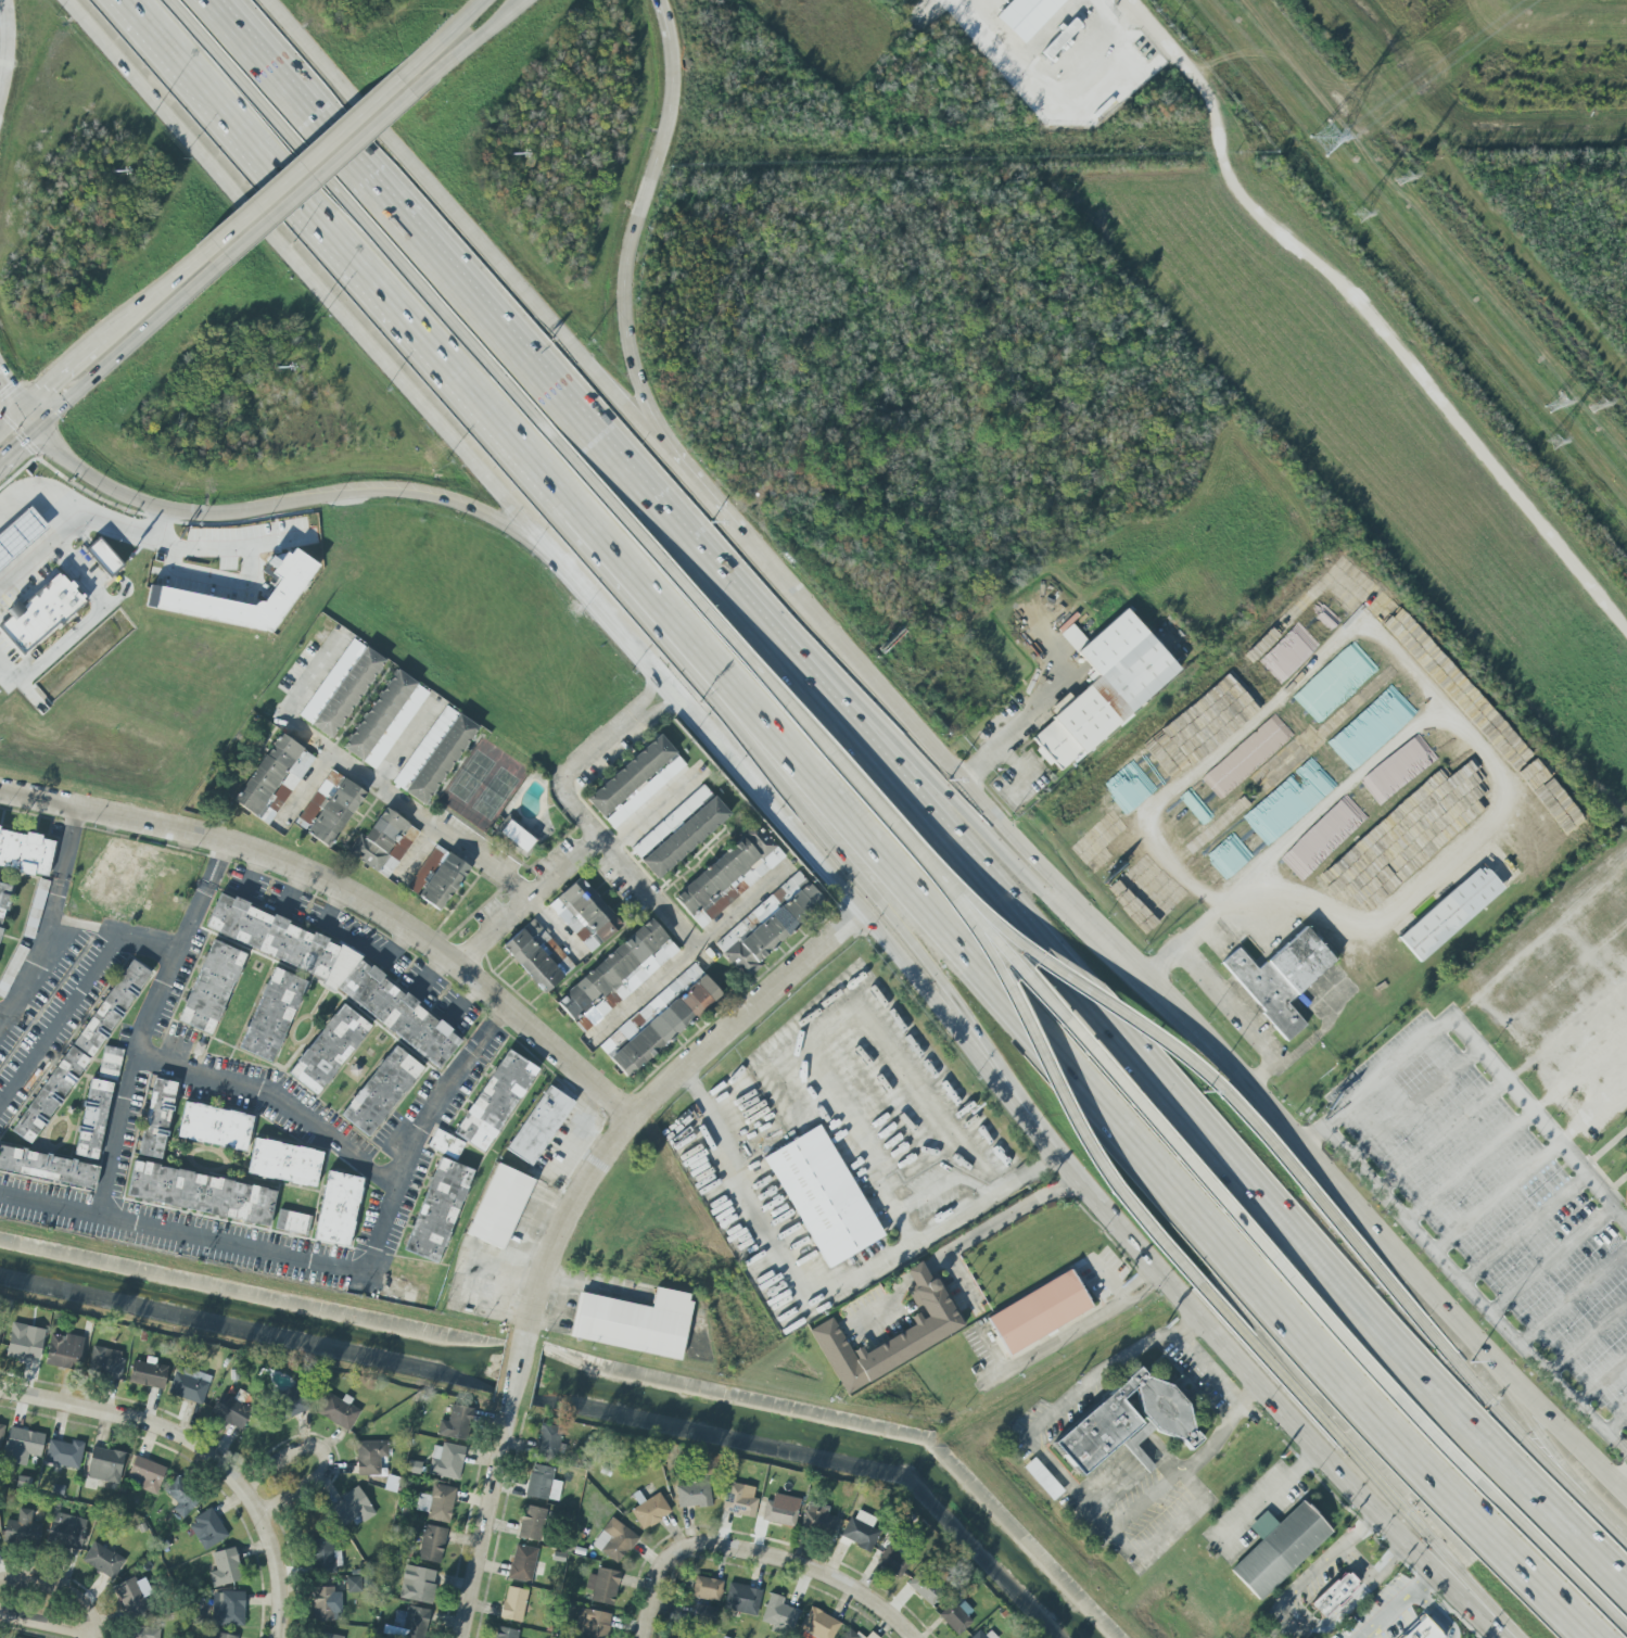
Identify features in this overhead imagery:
road: (470, 12)
building: (1026, 16)
road: (496, 21)
road: (1103, 30)
building: (1060, 38)
road: (251, 48)
road: (253, 48)
road: (10, 60)
power tower: (1329, 137)
road: (327, 141)
road: (342, 156)
power tower: (1410, 186)
power tower: (1368, 223)
road: (635, 228)
road: (366, 238)
road: (340, 252)
road: (503, 265)
road: (315, 278)
road: (148, 297)
road: (1364, 317)
road: (514, 346)
road: (125, 348)
road: (60, 370)
traffic signals: (3, 382)
traffic signals: (43, 385)
road: (10, 390)
power tower: (1554, 403)
road: (11, 414)
road: (29, 415)
power tower: (1599, 415)
traffic signals: (21, 442)
road: (18, 443)
power tower: (1558, 453)
road: (408, 491)
road: (130, 495)
road: (37, 498)
building: (18, 534)
gas station: (18, 534)
road: (211, 549)
building: (103, 558)
road: (29, 564)
road: (77, 569)
road: (779, 577)
road: (216, 585)
building: (169, 593)
building: (39, 614)
road: (614, 621)
road: (754, 674)
building: (341, 688)
building: (1104, 688)
road: (1264, 710)
road: (1028, 718)
building: (385, 720)
building: (434, 754)
park: (471, 776)
building: (274, 778)
building: (635, 782)
road: (310, 785)
park: (494, 792)
road: (1480, 805)
building: (330, 808)
road: (406, 808)
road: (654, 809)
road: (584, 813)
building: (671, 822)
road: (814, 823)
building: (517, 836)
building: (685, 837)
road: (988, 842)
building: (383, 843)
building: (25, 852)
road: (422, 853)
road: (1031, 855)
building: (728, 876)
building: (437, 877)
road: (345, 898)
road: (530, 900)
building: (3, 901)
road: (743, 904)
building: (35, 909)
building: (1450, 913)
building: (584, 914)
road: (51, 916)
road: (864, 916)
building: (768, 924)
road: (1179, 943)
road: (167, 948)
building: (537, 956)
building: (11, 969)
building: (331, 972)
building: (617, 975)
building: (1280, 978)
building: (211, 987)
road: (646, 991)
building: (111, 1008)
road: (5, 1013)
road: (58, 1015)
building: (271, 1015)
road: (1231, 1018)
building: (660, 1020)
road: (1129, 1021)
road: (1474, 1043)
building: (329, 1050)
building: (110, 1064)
road: (1580, 1070)
road: (1068, 1076)
road: (128, 1080)
road: (1053, 1087)
building: (381, 1091)
building: (49, 1094)
road: (1172, 1095)
building: (495, 1101)
road: (1415, 1104)
road: (276, 1107)
building: (156, 1118)
building: (92, 1119)
building: (539, 1125)
building: (214, 1127)
road: (1442, 1134)
building: (1624, 1142)
building: (445, 1145)
building: (284, 1163)
road: (1471, 1166)
building: (48, 1168)
road: (1209, 1183)
building: (201, 1193)
building: (823, 1196)
road: (1497, 1196)
building: (499, 1206)
building: (338, 1209)
building: (437, 1210)
road: (996, 1217)
road: (564, 1220)
building: (293, 1222)
road: (1525, 1228)
road: (1552, 1258)
road: (326, 1261)
road: (914, 1270)
road: (957, 1274)
road: (1155, 1277)
road: (1108, 1280)
road: (1473, 1291)
road: (1432, 1293)
road: (885, 1294)
road: (824, 1295)
road: (1127, 1296)
road: (1574, 1296)
building: (1039, 1312)
building: (634, 1322)
building: (935, 1328)
road: (1588, 1338)
building: (25, 1343)
road: (1052, 1343)
building: (63, 1351)
building: (105, 1361)
road: (1206, 1371)
road: (1461, 1371)
building: (148, 1374)
road: (1601, 1379)
building: (189, 1385)
road: (1274, 1399)
building: (293, 1401)
road: (1053, 1409)
building: (338, 1412)
road: (129, 1417)
building: (456, 1423)
building: (1126, 1423)
road: (1616, 1423)
road: (1222, 1429)
building: (1, 1432)
building: (547, 1440)
building: (22, 1446)
building: (64, 1453)
road: (323, 1453)
building: (370, 1457)
building: (446, 1461)
road: (1356, 1461)
building: (104, 1464)
building: (145, 1474)
road: (1620, 1477)
building: (1042, 1478)
building: (542, 1484)
road: (1272, 1493)
building: (692, 1494)
building: (182, 1496)
building: (739, 1499)
building: (436, 1502)
road: (1147, 1503)
building: (352, 1507)
building: (780, 1510)
building: (650, 1511)
building: (817, 1519)
building: (531, 1523)
road: (1168, 1528)
building: (22, 1529)
building: (207, 1529)
building: (66, 1531)
building: (860, 1531)
building: (614, 1540)
building: (431, 1544)
building: (1278, 1548)
building: (325, 1557)
road: (274, 1558)
building: (103, 1560)
building: (893, 1561)
road: (1556, 1561)
building: (522, 1563)
road: (804, 1565)
building: (225, 1567)
road: (1425, 1580)
building: (353, 1584)
building: (417, 1584)
building: (602, 1586)
building: (925, 1587)
building: (707, 1588)
road: (60, 1589)
road: (652, 1591)
building: (1334, 1595)
road: (1410, 1595)
building: (130, 1598)
building: (742, 1599)
building: (326, 1604)
building: (513, 1604)
building: (228, 1608)
building: (703, 1611)
building: (778, 1614)
building: (957, 1615)
building: (415, 1622)
road: (46, 1623)
building: (593, 1623)
building: (818, 1624)
building: (1422, 1630)
building: (143, 1633)
building: (505, 1633)
building: (849, 1634)
building: (325, 1635)
building: (983, 1635)
road: (1368, 1635)
road: (1449, 1635)
road: (92, 1636)
building: (223, 1636)
building: (869, 1636)

